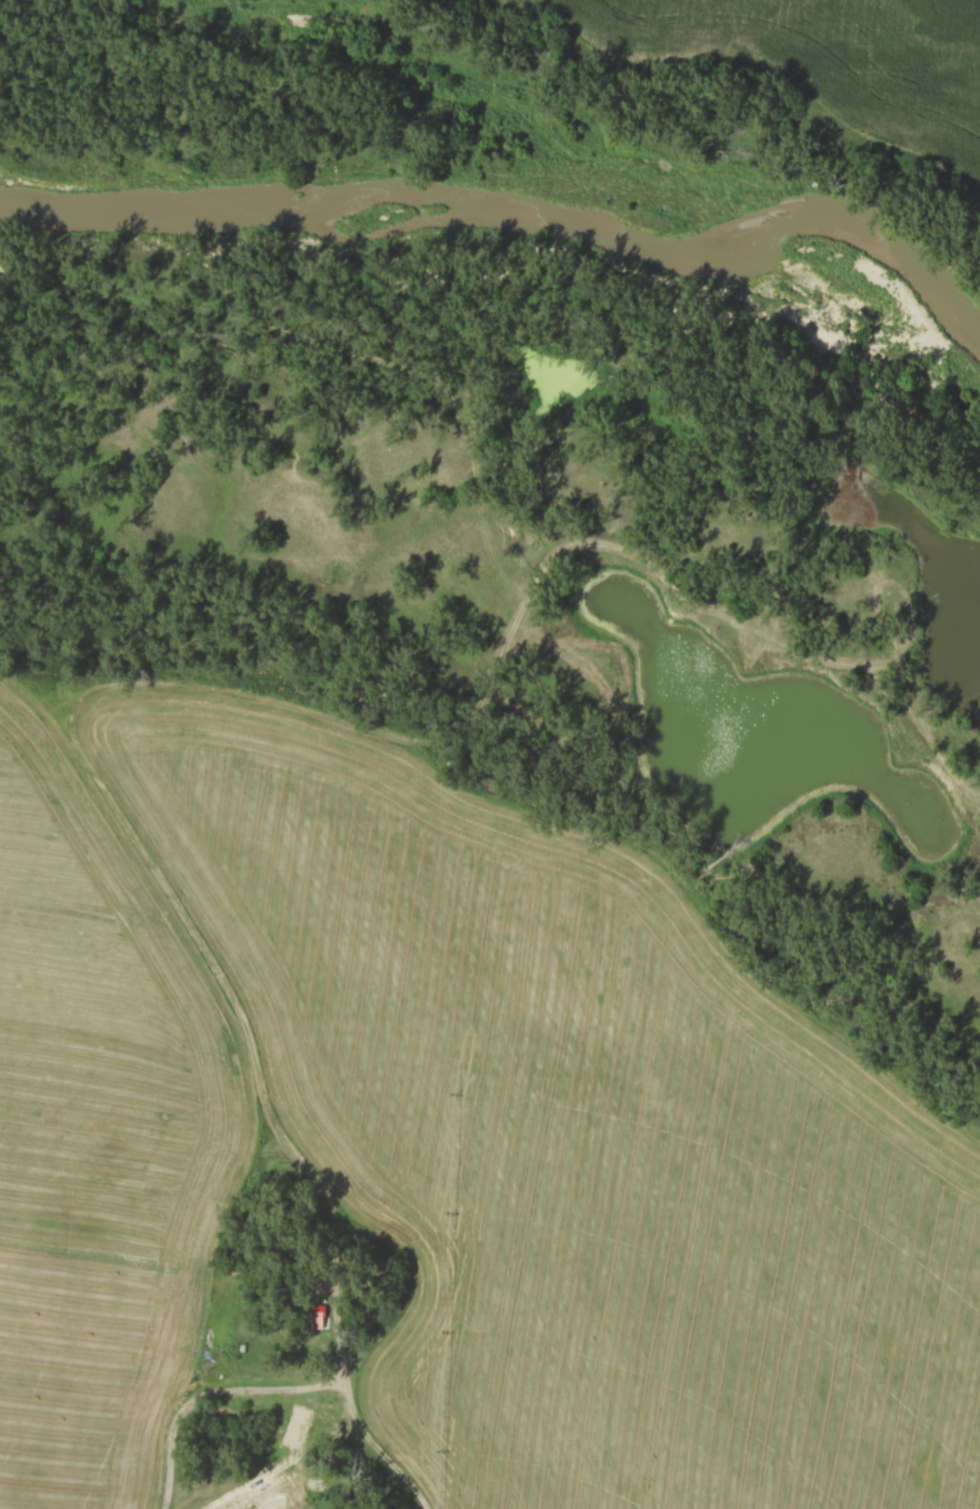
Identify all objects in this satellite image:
river: (512, 219)

